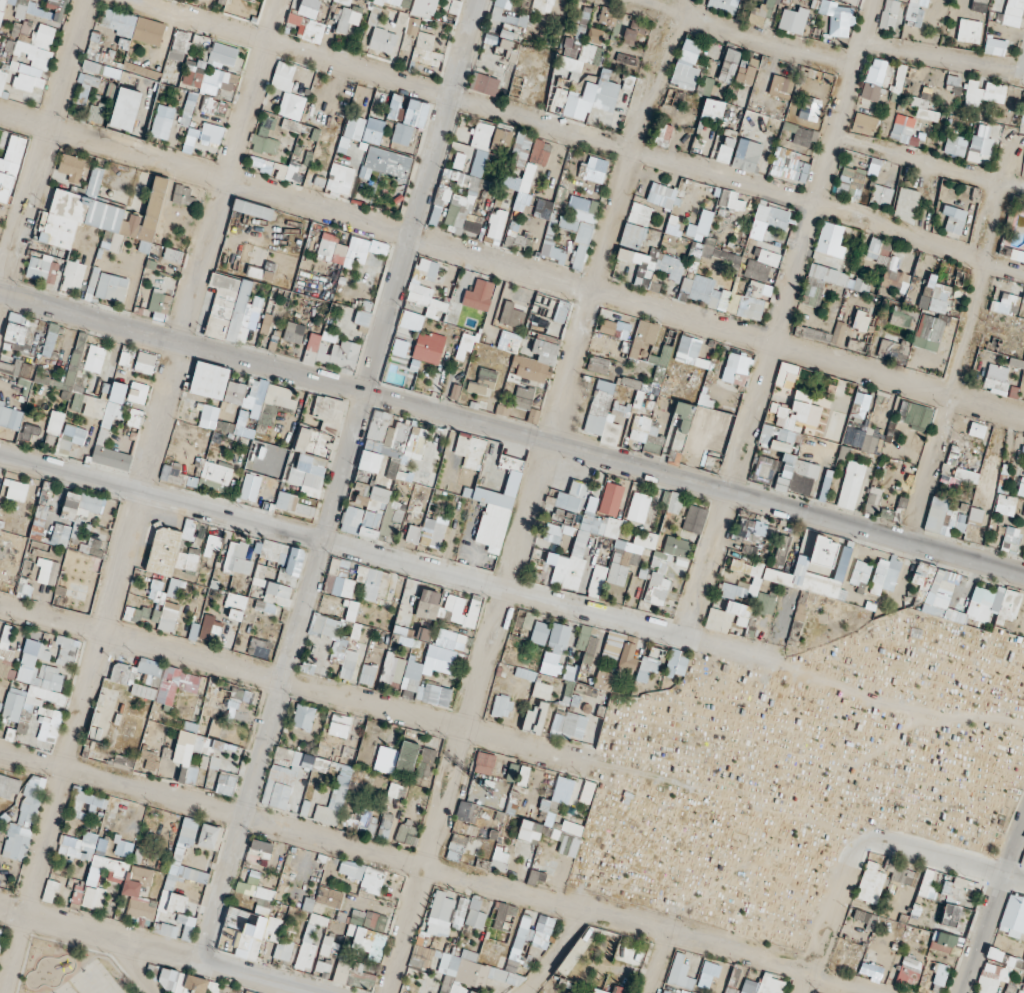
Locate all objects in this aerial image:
park: (801, 778)

